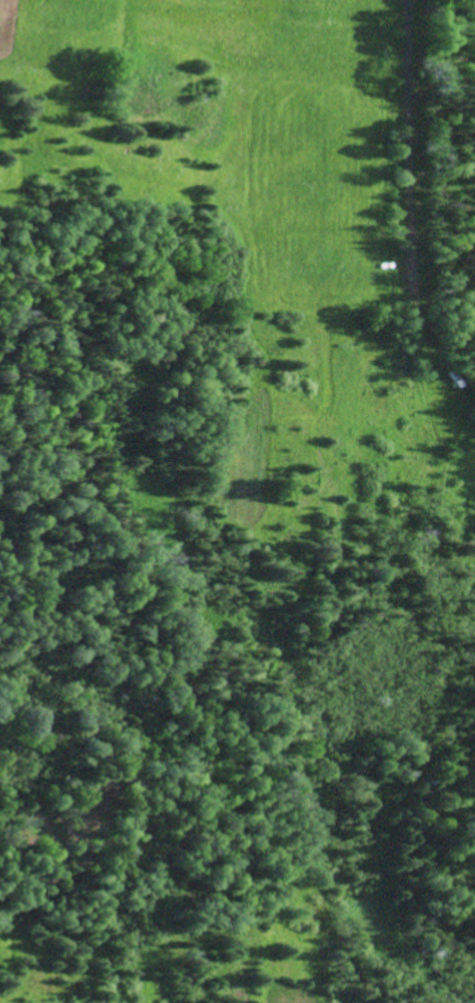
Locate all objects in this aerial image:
road: (417, 112)
building: (452, 377)

